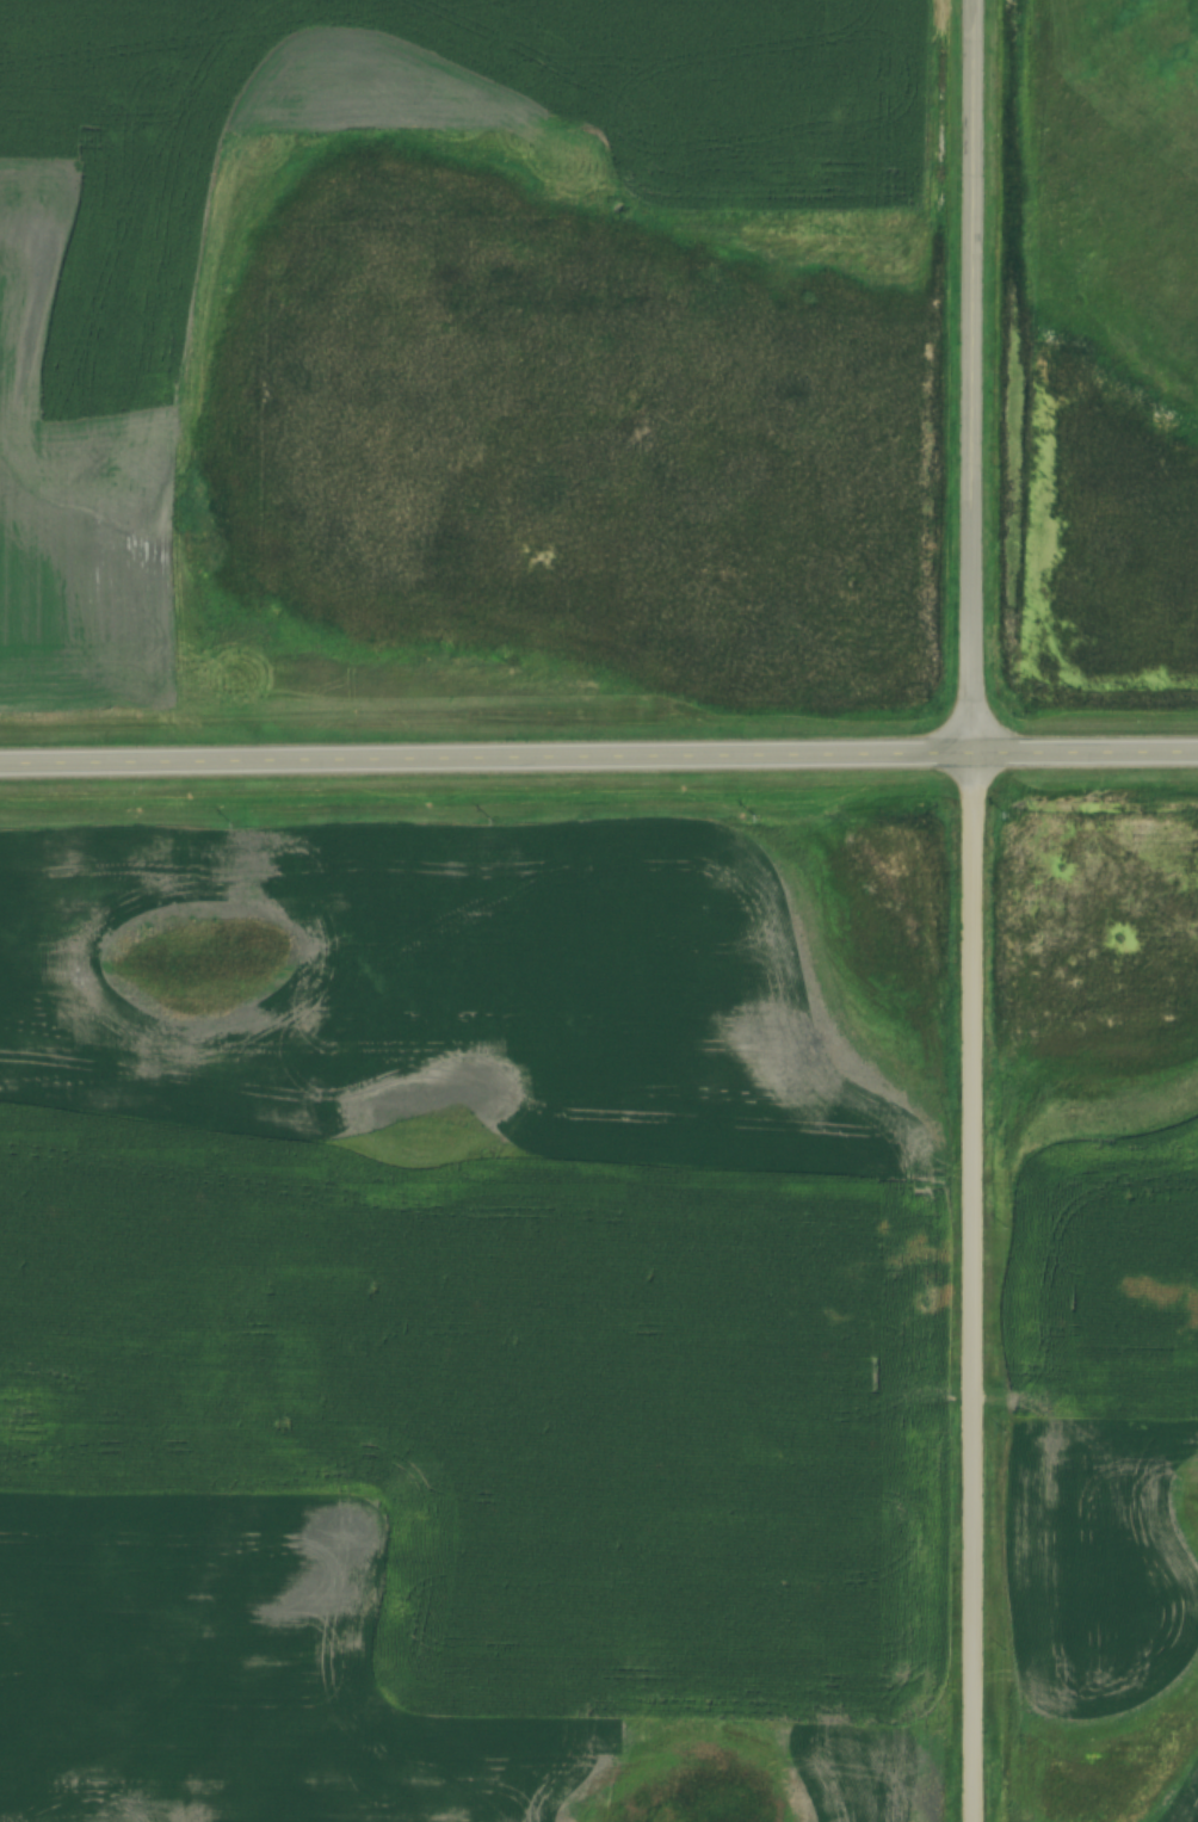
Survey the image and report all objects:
road: (970, 379)
road: (598, 765)
road: (974, 1290)

